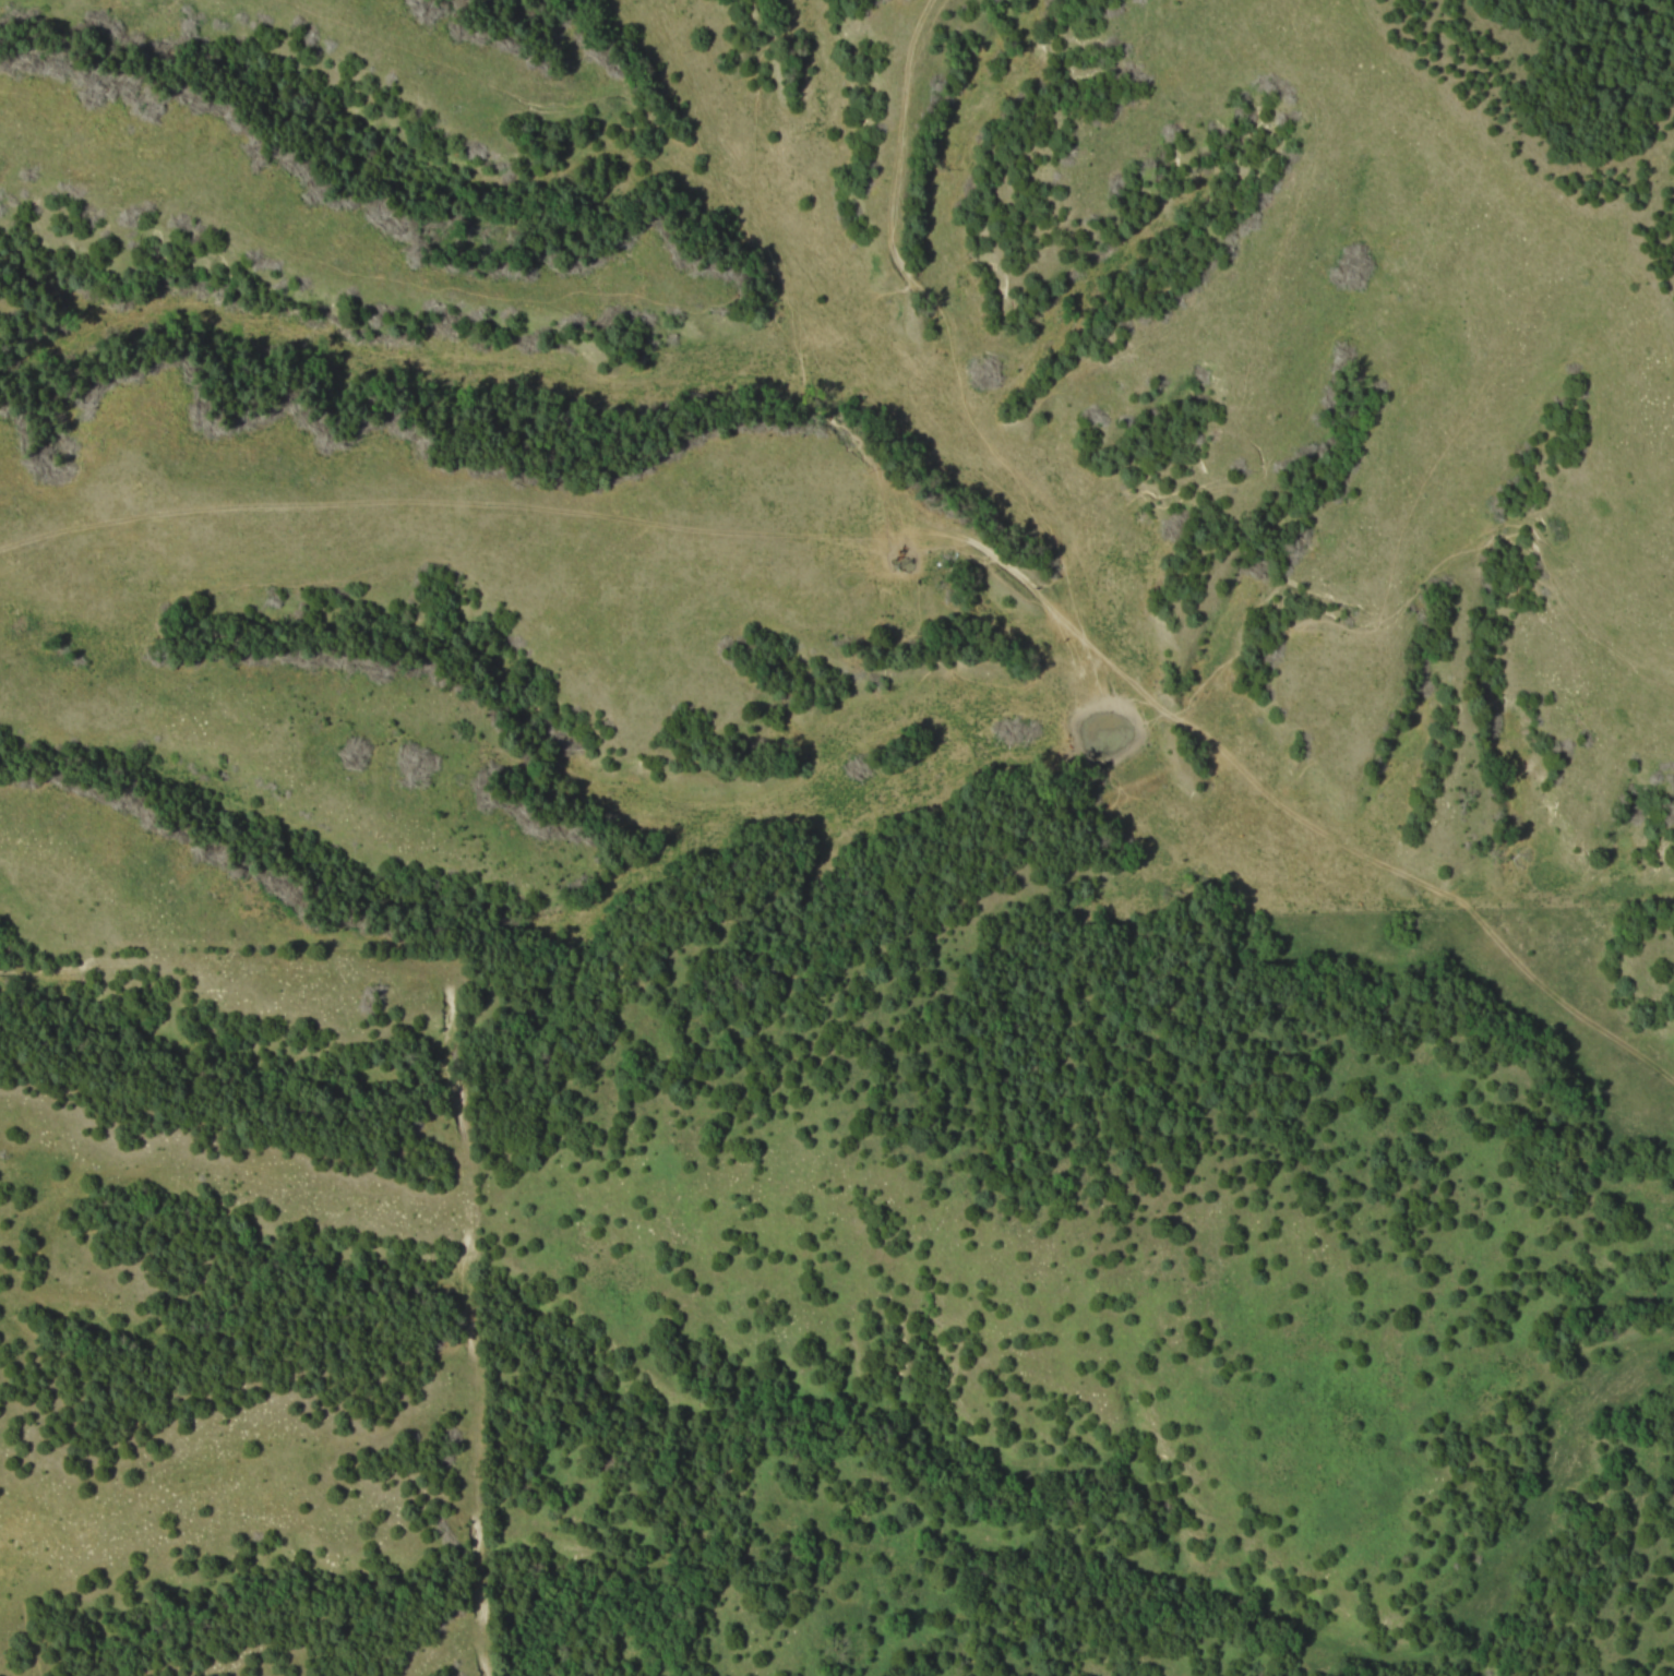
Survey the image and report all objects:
crop: (247, 1319)

